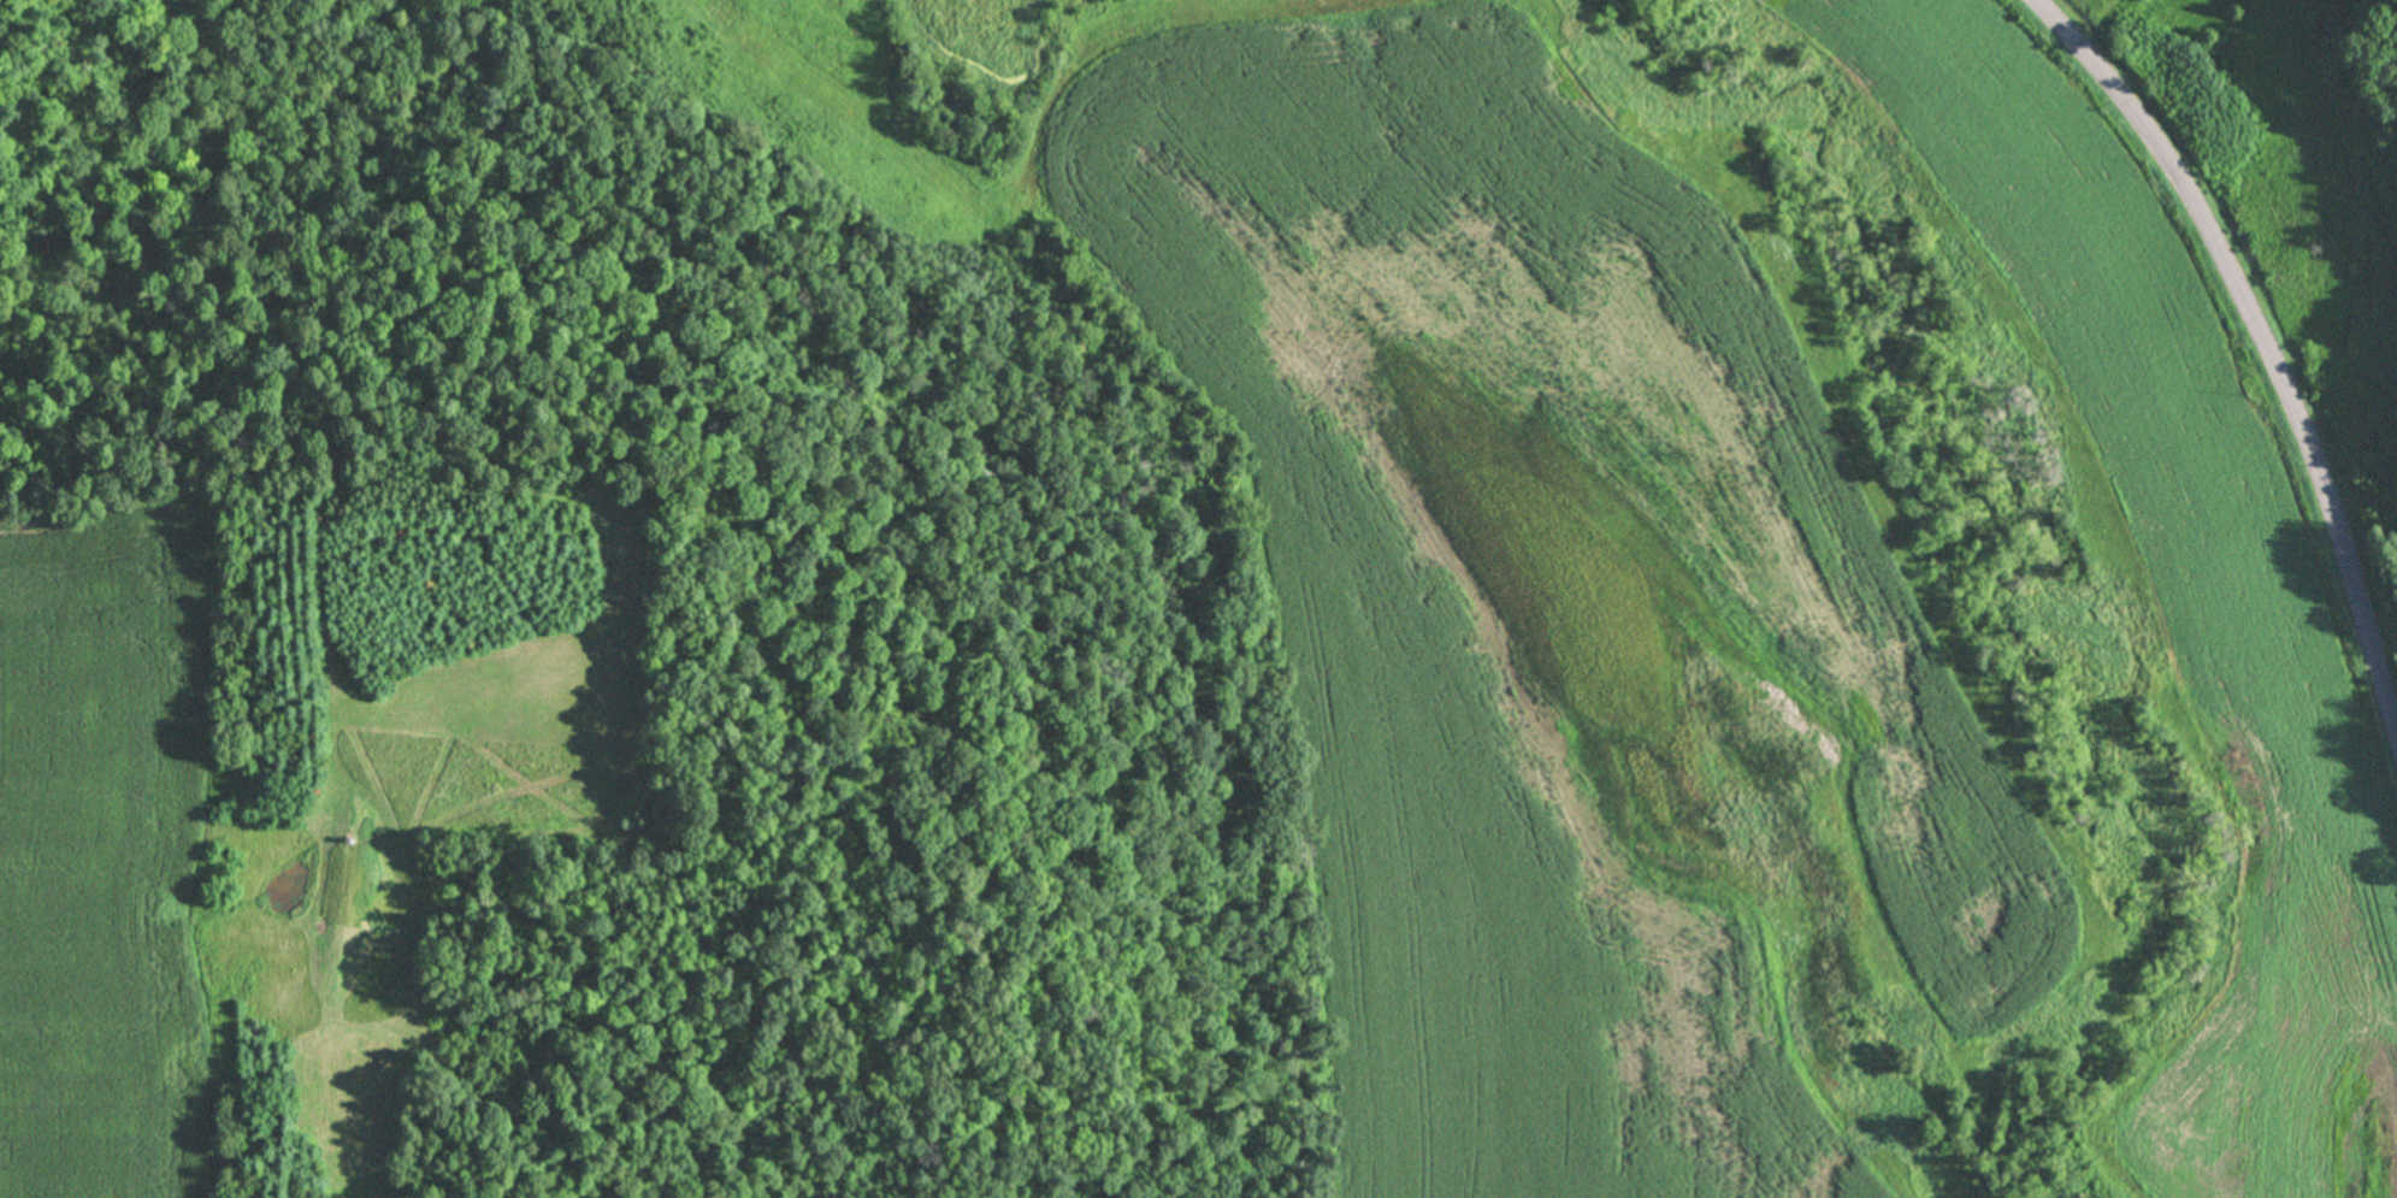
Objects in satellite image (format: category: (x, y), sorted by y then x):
road: (2263, 341)

